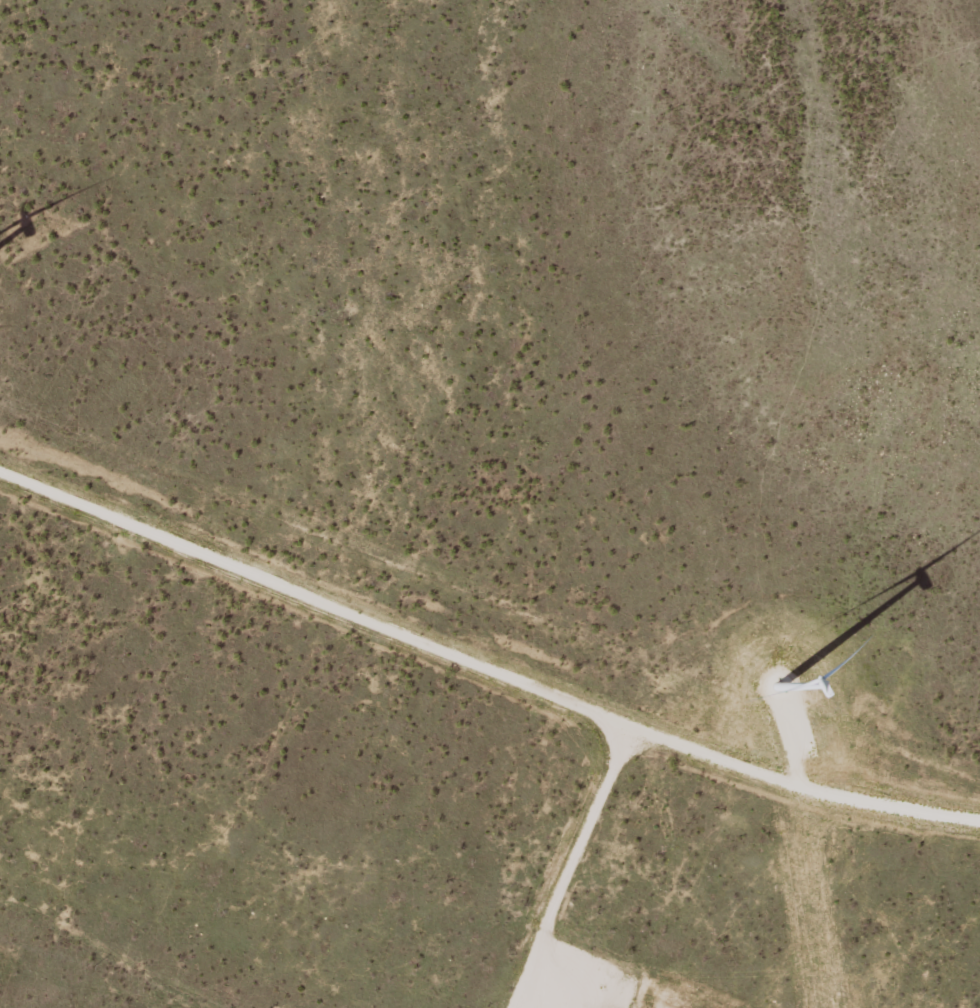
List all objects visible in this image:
wind turbine: (779, 686)

